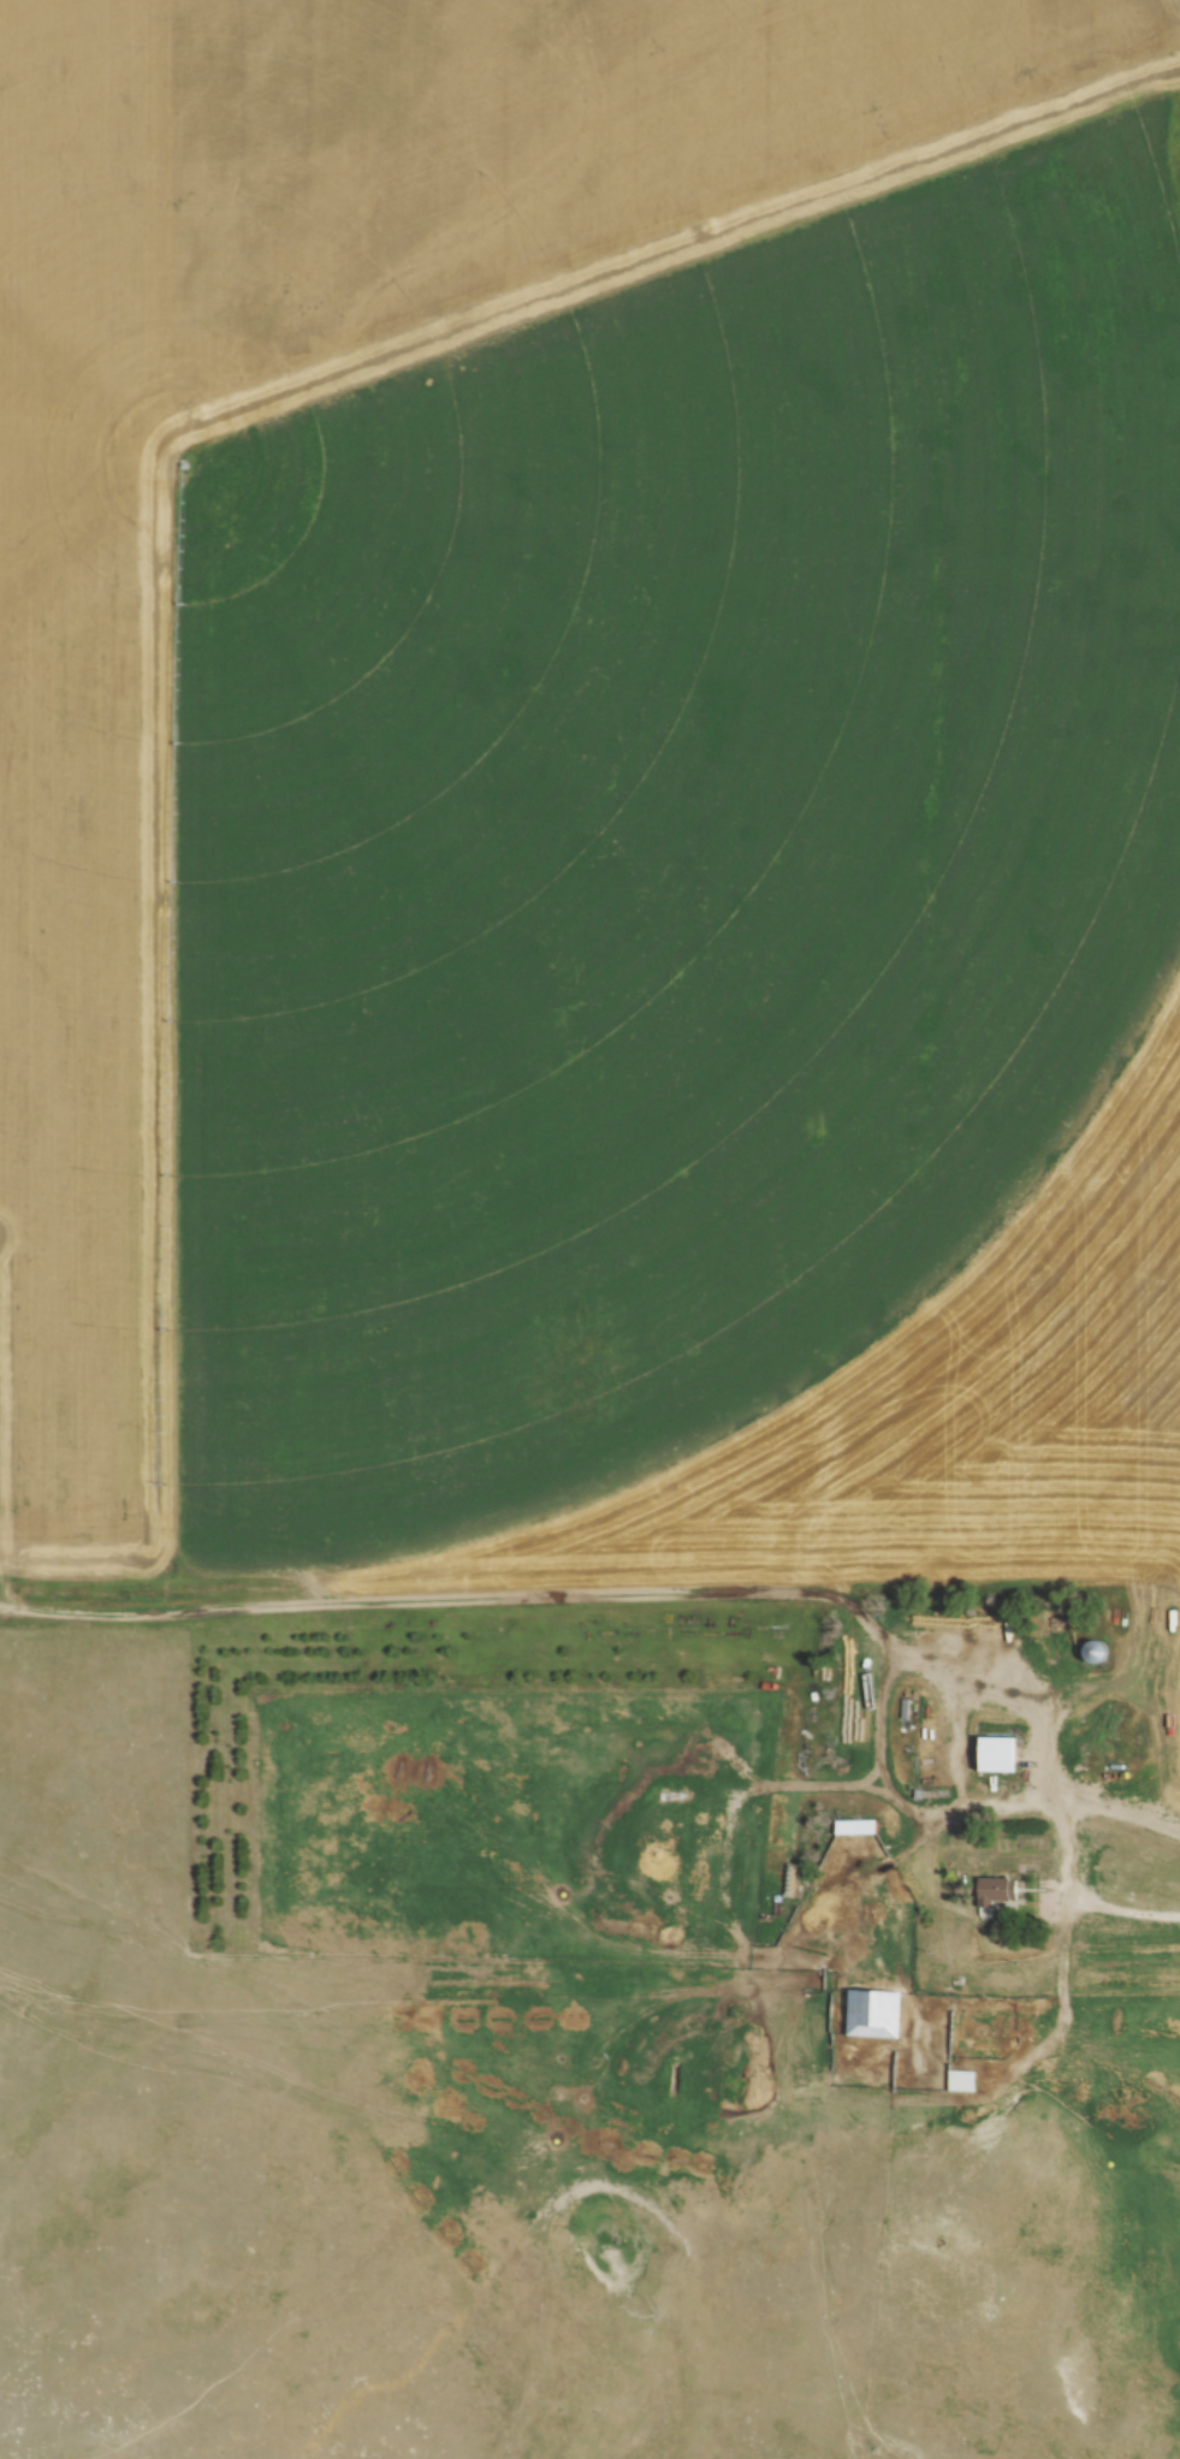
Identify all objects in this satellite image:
building: (1097, 1651)
building: (997, 1754)
building: (858, 1826)
building: (1000, 1890)
road: (1115, 1913)
building: (874, 2011)
building: (962, 2080)

